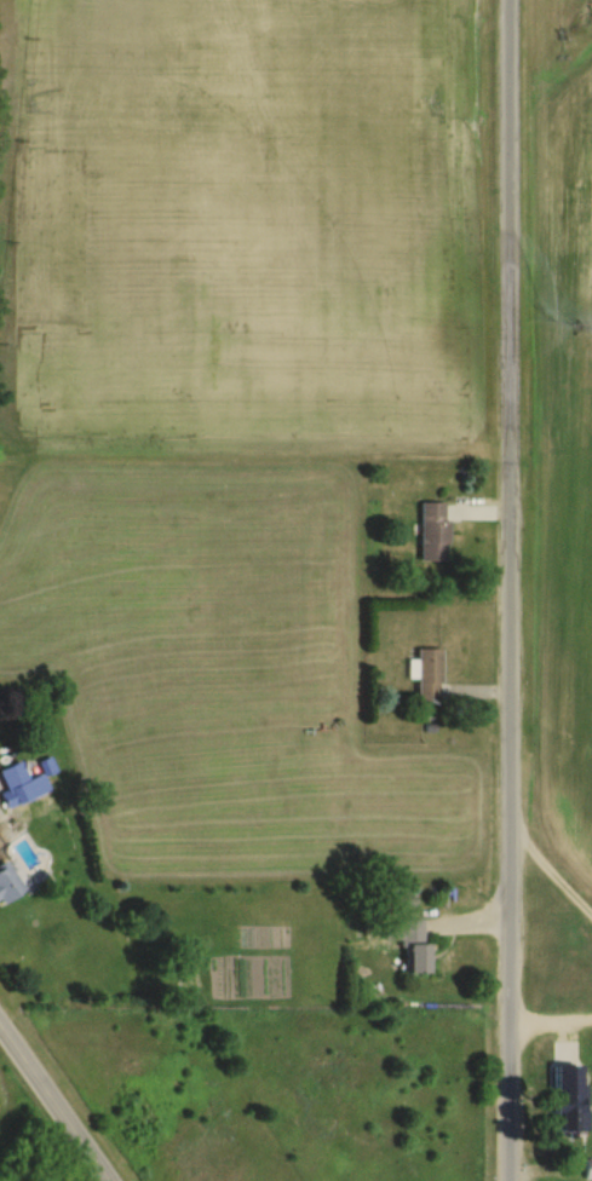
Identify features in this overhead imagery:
crop: (565, 450)
building: (432, 530)
road: (510, 590)
building: (429, 674)
crop: (213, 679)
building: (16, 785)
road: (6, 830)
road: (551, 871)
building: (7, 885)
building: (410, 929)
building: (418, 958)
road: (551, 1019)
road: (53, 1105)
building: (570, 1114)
crop: (10, 1116)
building: (587, 1169)

